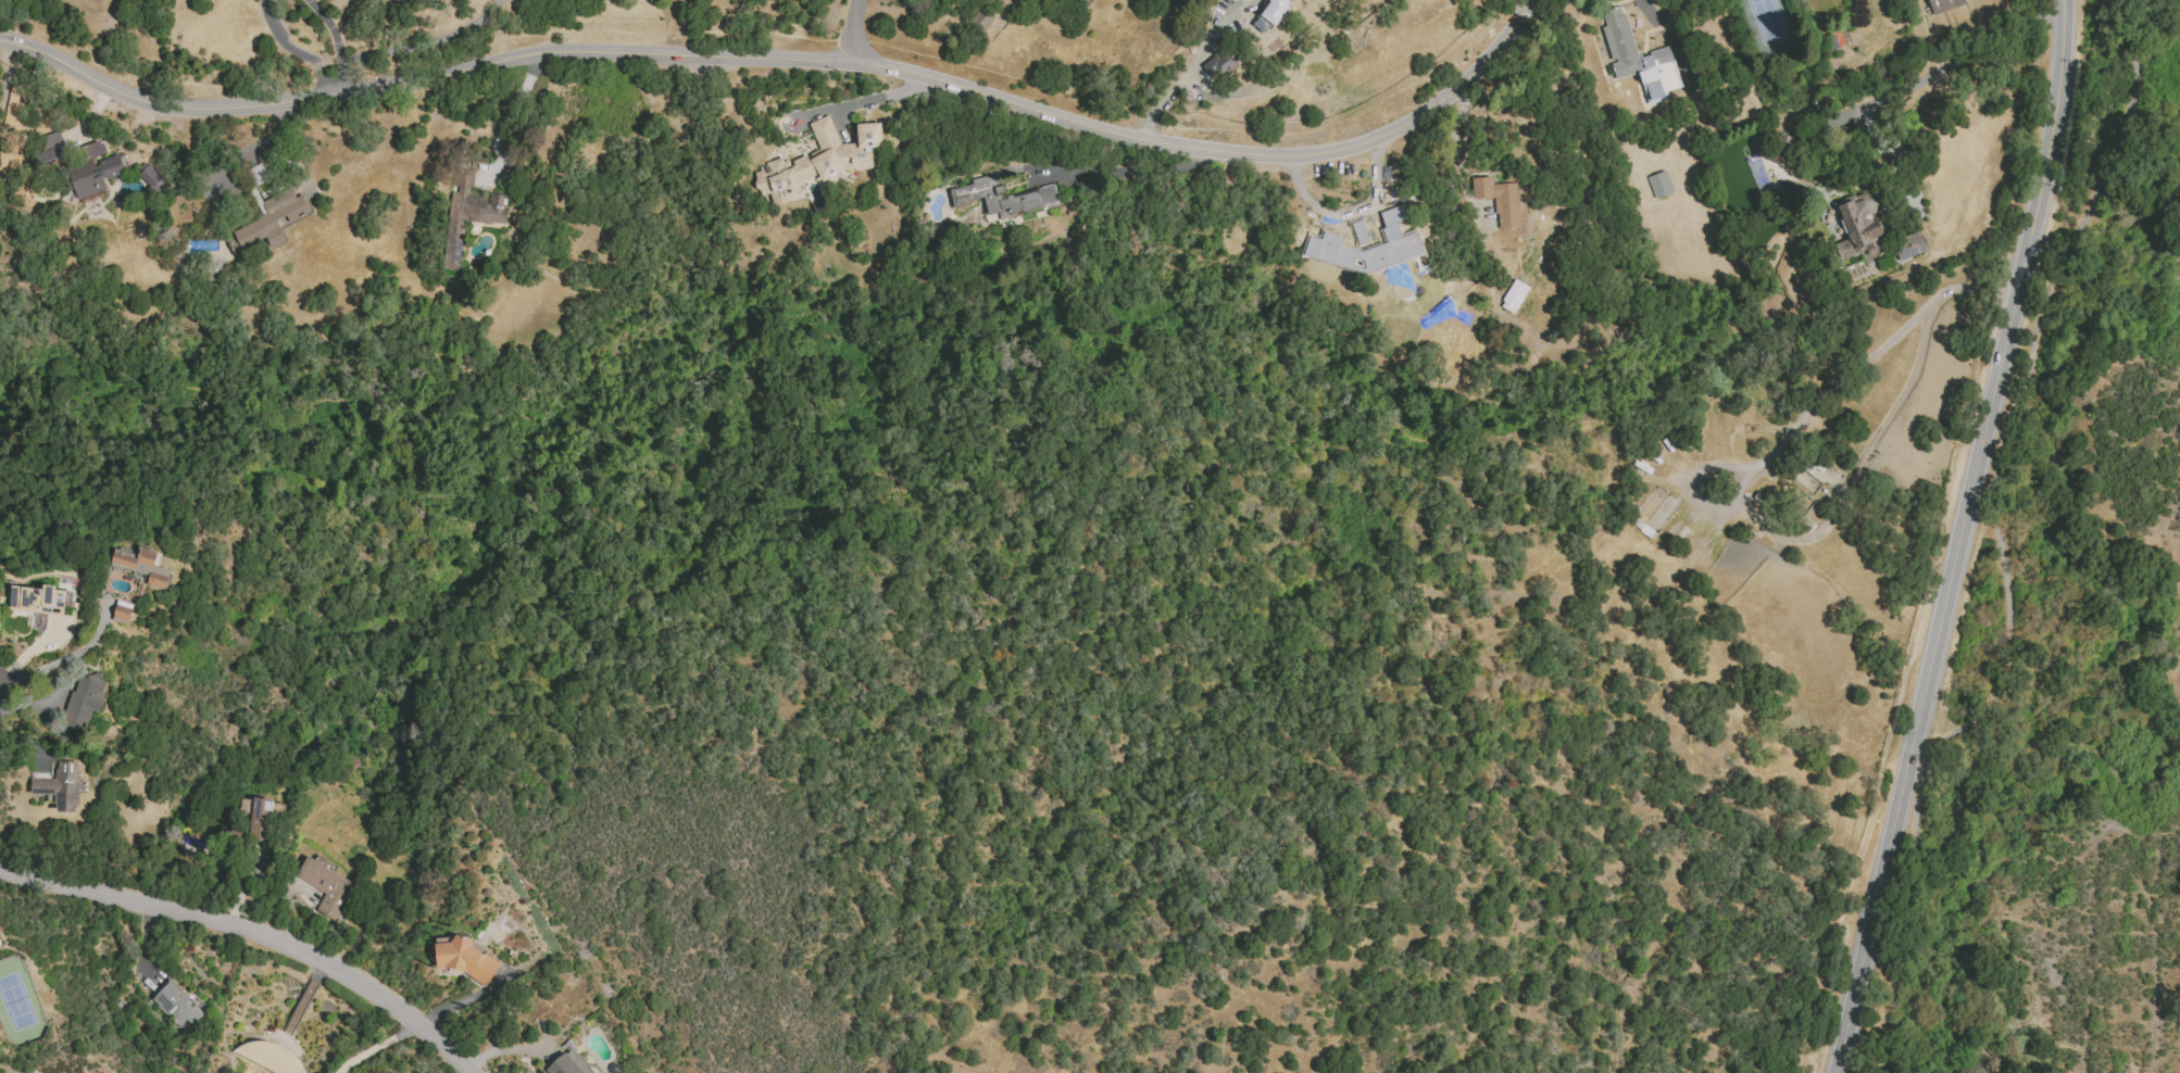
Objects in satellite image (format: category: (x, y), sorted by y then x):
building: (1943, 4)
road: (1646, 12)
building: (1269, 14)
road: (264, 16)
road: (854, 33)
road: (336, 42)
road: (425, 45)
road: (308, 59)
road: (792, 59)
building: (1638, 59)
building: (1218, 63)
road: (1190, 67)
road: (529, 76)
road: (906, 85)
road: (1915, 86)
road: (849, 104)
road: (503, 137)
road: (256, 147)
building: (51, 148)
building: (1783, 150)
building: (817, 162)
building: (91, 171)
building: (150, 176)
building: (1659, 185)
building: (1002, 198)
building: (1499, 200)
building: (267, 213)
building: (467, 215)
building: (1870, 238)
building: (1514, 296)
road: (1737, 490)
building: (1887, 493)
building: (1764, 497)
building: (1807, 527)
building: (1643, 529)
road: (1960, 538)
road: (1997, 543)
building: (141, 566)
building: (39, 599)
building: (122, 611)
road: (63, 659)
building: (82, 706)
crop: (2095, 747)
building: (62, 786)
building: (259, 817)
building: (326, 887)
road: (252, 934)
building: (464, 958)
building: (177, 1006)
road: (374, 1046)
building: (268, 1057)
building: (569, 1064)

